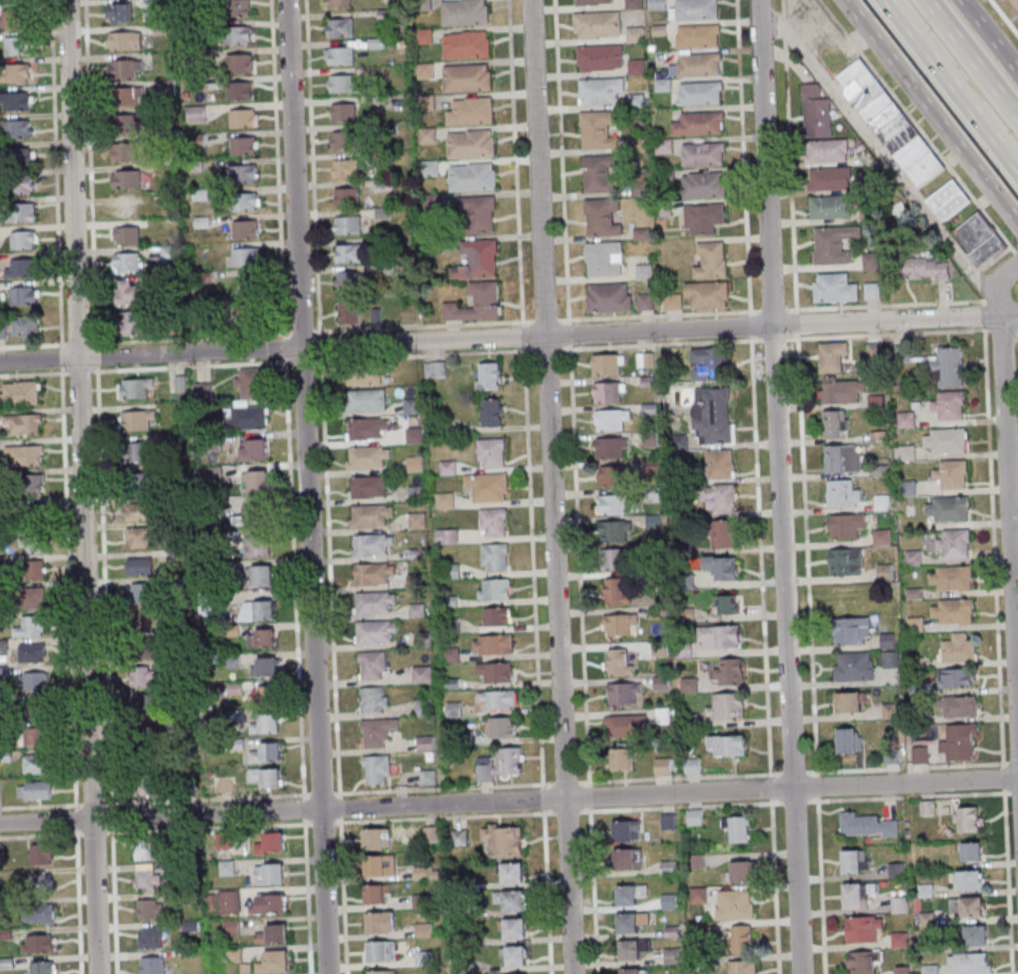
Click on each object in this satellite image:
building: (1016, 2)
building: (339, 3)
building: (593, 3)
building: (633, 5)
building: (657, 5)
building: (237, 8)
building: (696, 10)
building: (120, 12)
building: (466, 12)
road: (1004, 17)
building: (11, 18)
building: (597, 26)
building: (341, 27)
road: (990, 34)
building: (237, 35)
building: (635, 36)
building: (698, 37)
building: (125, 40)
building: (467, 45)
building: (17, 46)
building: (340, 55)
building: (601, 58)
road: (970, 61)
building: (239, 63)
building: (699, 65)
building: (126, 68)
building: (636, 68)
building: (15, 73)
building: (468, 78)
building: (343, 83)
road: (950, 87)
building: (241, 90)
building: (600, 90)
building: (701, 94)
building: (128, 95)
building: (16, 100)
building: (471, 111)
building: (344, 112)
building: (816, 112)
road: (931, 112)
building: (196, 113)
building: (244, 118)
building: (889, 122)
building: (124, 123)
building: (700, 124)
road: (917, 126)
building: (17, 128)
building: (598, 131)
building: (344, 140)
building: (472, 144)
building: (245, 146)
road: (880, 150)
building: (826, 151)
building: (125, 152)
building: (704, 154)
building: (21, 158)
road: (515, 162)
road: (313, 166)
road: (278, 168)
building: (346, 168)
road: (91, 172)
road: (56, 173)
building: (244, 173)
building: (599, 174)
building: (473, 176)
building: (829, 178)
building: (126, 179)
building: (23, 185)
building: (704, 185)
building: (346, 196)
building: (948, 200)
building: (246, 202)
building: (128, 207)
building: (831, 207)
building: (21, 212)
building: (480, 214)
building: (603, 218)
building: (704, 218)
building: (349, 225)
building: (242, 229)
building: (127, 235)
building: (24, 240)
building: (979, 240)
building: (834, 244)
building: (349, 253)
road: (1016, 254)
building: (247, 256)
building: (604, 259)
building: (711, 259)
building: (478, 260)
building: (871, 261)
building: (127, 262)
building: (22, 268)
building: (923, 268)
building: (644, 272)
building: (347, 282)
road: (998, 285)
building: (252, 287)
building: (835, 288)
building: (872, 291)
building: (133, 293)
building: (708, 294)
building: (25, 295)
building: (609, 297)
building: (646, 301)
building: (673, 302)
building: (478, 303)
road: (886, 304)
road: (771, 309)
building: (349, 313)
road: (983, 313)
road: (657, 315)
building: (132, 320)
road: (544, 320)
road: (423, 325)
building: (26, 327)
road: (1003, 327)
road: (1009, 329)
road: (302, 332)
road: (888, 333)
road: (523, 336)
road: (190, 338)
road: (509, 338)
road: (774, 339)
road: (79, 343)
road: (659, 343)
road: (320, 344)
road: (33, 345)
road: (286, 346)
road: (546, 349)
road: (422, 354)
road: (97, 356)
building: (833, 357)
road: (62, 358)
road: (302, 360)
building: (708, 363)
building: (608, 364)
road: (191, 365)
building: (948, 366)
building: (436, 369)
road: (80, 371)
road: (34, 373)
building: (489, 376)
building: (364, 377)
building: (251, 383)
building: (135, 388)
building: (843, 390)
building: (610, 392)
building: (20, 394)
building: (368, 400)
building: (412, 406)
building: (949, 406)
building: (493, 412)
building: (713, 415)
building: (249, 418)
building: (612, 419)
building: (905, 419)
building: (136, 420)
building: (836, 423)
building: (24, 424)
building: (366, 428)
building: (415, 435)
building: (650, 439)
building: (945, 441)
building: (679, 442)
building: (612, 447)
building: (254, 450)
building: (144, 452)
building: (905, 452)
building: (492, 453)
building: (25, 455)
building: (368, 457)
building: (842, 458)
building: (416, 464)
building: (719, 464)
building: (952, 474)
building: (614, 475)
building: (255, 482)
building: (144, 483)
building: (31, 484)
road: (81, 486)
building: (368, 486)
road: (551, 486)
road: (575, 486)
road: (306, 487)
road: (778, 487)
building: (489, 488)
building: (908, 488)
building: (417, 492)
building: (843, 494)
building: (722, 498)
building: (445, 501)
building: (882, 501)
building: (615, 504)
building: (947, 508)
building: (144, 511)
building: (33, 515)
building: (370, 515)
building: (254, 516)
building: (417, 521)
building: (494, 523)
building: (846, 526)
road: (1008, 527)
building: (616, 531)
building: (723, 533)
building: (447, 537)
building: (881, 537)
building: (140, 538)
building: (954, 543)
building: (33, 544)
building: (371, 544)
road: (992, 545)
building: (260, 546)
building: (495, 557)
building: (912, 558)
building: (615, 559)
building: (846, 562)
building: (139, 566)
building: (723, 566)
road: (532, 567)
building: (885, 569)
building: (373, 573)
building: (262, 576)
road: (329, 576)
road: (295, 577)
building: (950, 578)
road: (104, 585)
road: (69, 588)
building: (495, 589)
building: (615, 591)
building: (142, 593)
building: (849, 595)
building: (35, 598)
building: (375, 603)
building: (726, 604)
building: (417, 609)
building: (257, 610)
building: (954, 611)
building: (497, 617)
building: (915, 623)
building: (621, 626)
building: (31, 627)
building: (852, 630)
building: (375, 632)
building: (146, 635)
building: (719, 637)
building: (261, 638)
building: (887, 640)
building: (493, 645)
building: (957, 649)
building: (32, 653)
building: (890, 659)
building: (619, 662)
building: (373, 665)
building: (854, 666)
building: (265, 667)
building: (729, 671)
building: (496, 673)
building: (422, 674)
building: (142, 677)
building: (956, 678)
building: (34, 682)
building: (624, 693)
building: (264, 696)
building: (374, 699)
building: (497, 700)
building: (848, 701)
building: (145, 705)
building: (423, 706)
building: (960, 706)
building: (726, 707)
building: (36, 711)
building: (662, 716)
building: (267, 724)
building: (628, 725)
building: (502, 727)
building: (377, 732)
building: (37, 736)
building: (848, 740)
building: (959, 742)
building: (426, 743)
building: (727, 745)
building: (267, 753)
building: (919, 754)
building: (622, 759)
road: (1012, 763)
building: (36, 764)
building: (503, 765)
building: (662, 766)
building: (692, 766)
road: (907, 767)
building: (377, 770)
road: (792, 772)
building: (268, 777)
road: (678, 777)
building: (428, 778)
road: (1003, 778)
road: (565, 782)
building: (149, 786)
road: (443, 788)
building: (34, 790)
road: (1014, 792)
road: (321, 793)
road: (910, 796)
road: (207, 798)
road: (542, 798)
road: (508, 801)
road: (794, 801)
road: (94, 803)
road: (40, 805)
road: (339, 806)
road: (680, 806)
road: (304, 808)
road: (567, 811)
road: (112, 816)
road: (443, 817)
road: (76, 819)
building: (968, 819)
road: (322, 822)
building: (867, 825)
road: (208, 827)
building: (739, 829)
building: (626, 831)
road: (93, 832)
road: (39, 835)
building: (377, 839)
building: (503, 840)
building: (271, 844)
building: (146, 850)
building: (971, 851)
building: (42, 854)
building: (629, 859)
building: (855, 861)
building: (380, 865)
building: (742, 871)
building: (512, 873)
building: (270, 874)
building: (970, 879)
building: (148, 880)
road: (1007, 881)
building: (41, 883)
road: (547, 892)
building: (377, 894)
building: (629, 894)
building: (856, 894)
road: (343, 895)
building: (699, 895)
road: (307, 896)
road: (114, 900)
building: (511, 900)
building: (668, 901)
road: (78, 902)
building: (229, 903)
building: (269, 904)
building: (735, 904)
building: (899, 905)
building: (968, 906)
building: (149, 908)
building: (40, 914)
building: (381, 922)
building: (631, 922)
building: (515, 928)
building: (863, 929)
building: (274, 934)
building: (976, 935)
building: (150, 937)
building: (741, 938)
building: (38, 943)
building: (633, 949)
building: (382, 951)
building: (672, 955)
building: (514, 956)
building: (863, 961)
building: (275, 962)
building: (972, 963)
building: (153, 965)
building: (740, 967)
building: (42, 968)
building: (631, 971)
building: (382, 972)

